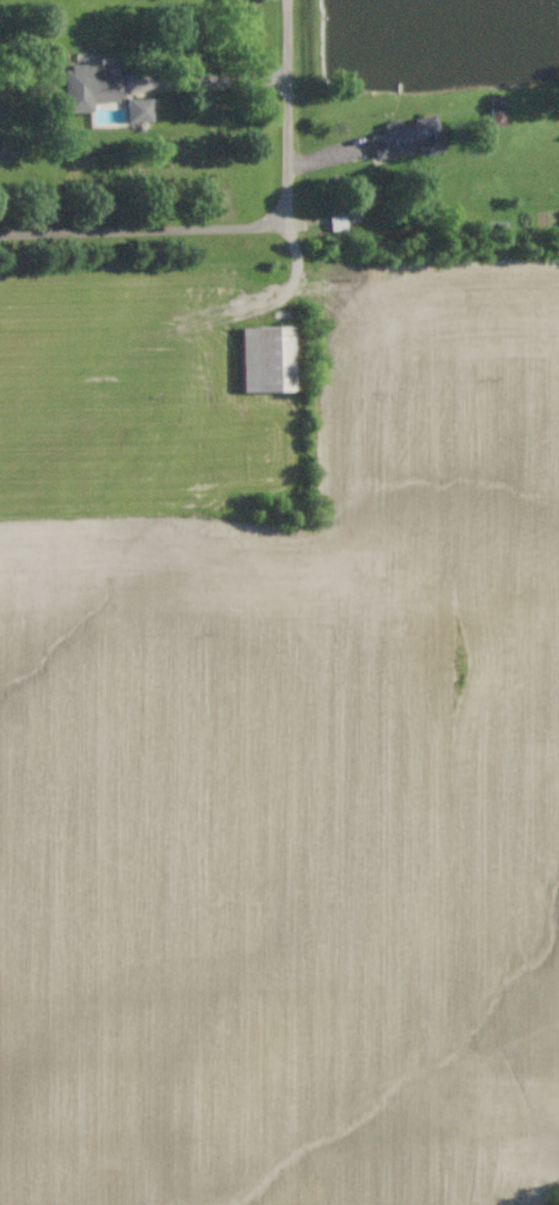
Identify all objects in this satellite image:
building: (93, 81)
road: (220, 81)
building: (139, 109)
building: (497, 110)
road: (296, 115)
building: (408, 137)
road: (148, 235)
building: (266, 358)

